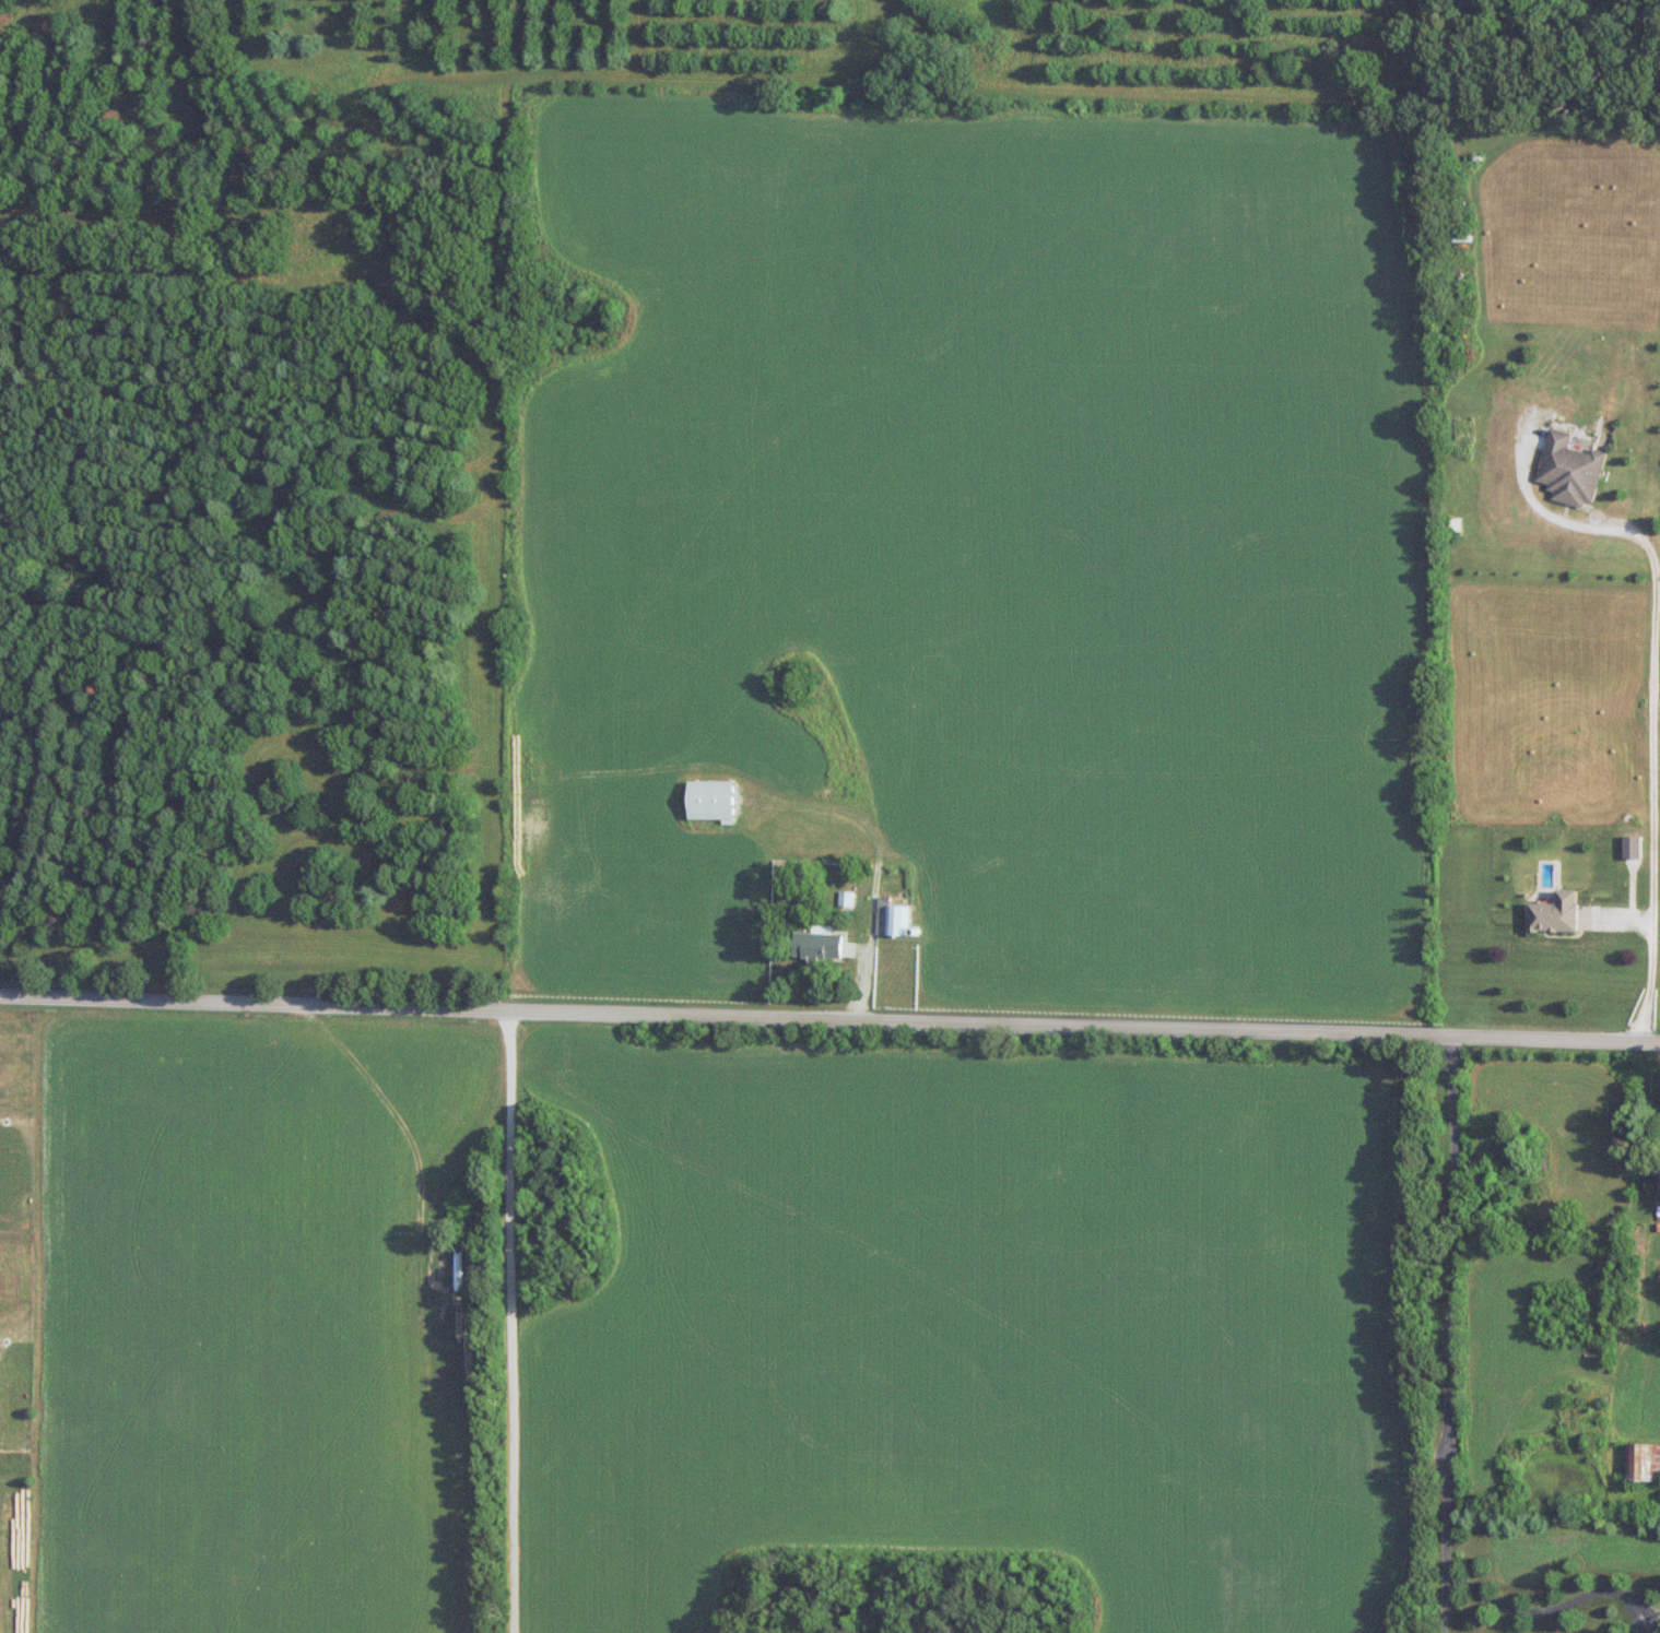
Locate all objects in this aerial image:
building: (1571, 470)
road: (1540, 510)
building: (1453, 525)
road: (1652, 782)
building: (714, 801)
building: (1633, 848)
building: (1557, 913)
building: (895, 919)
building: (819, 945)
road: (829, 1014)
building: (1636, 1241)
road: (511, 1318)
road: (1446, 1332)
building: (1643, 1463)
road: (1554, 1607)

